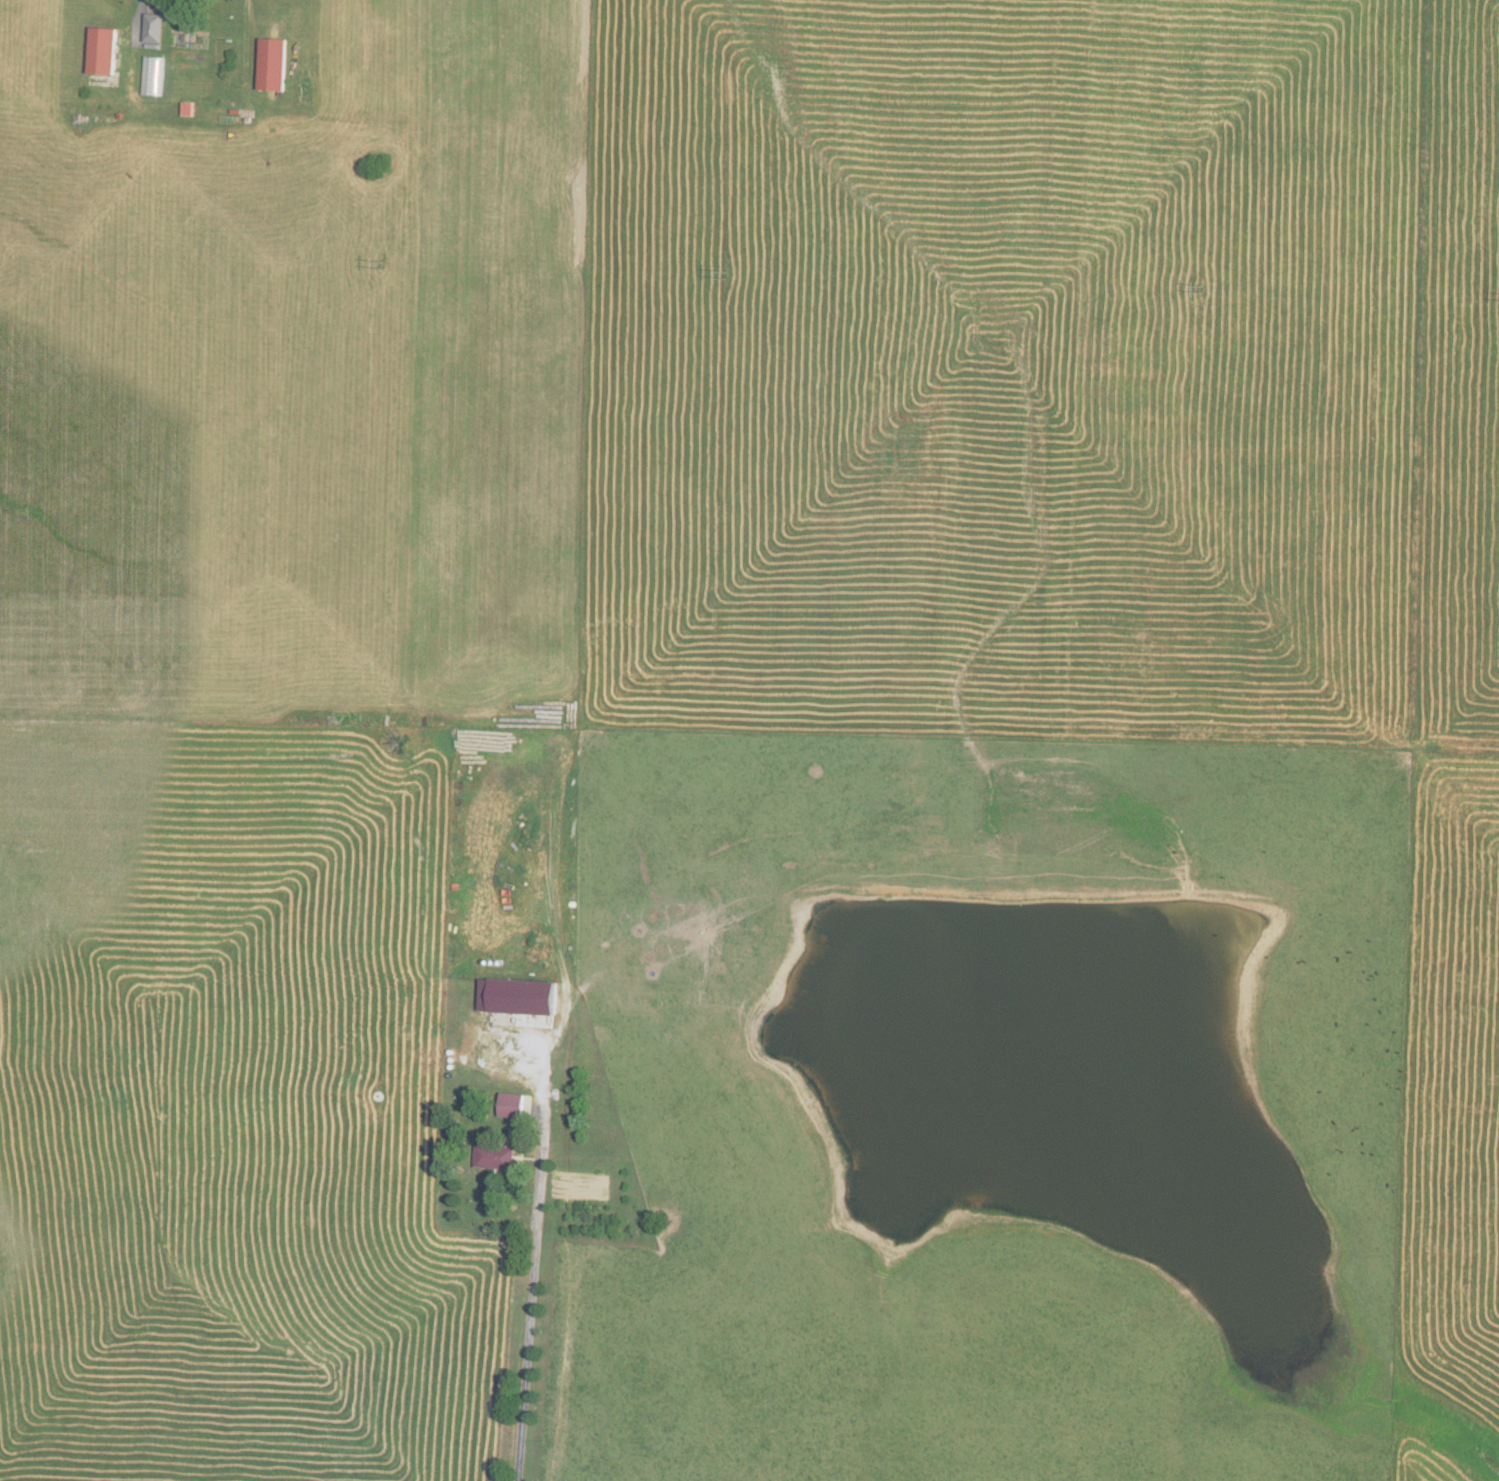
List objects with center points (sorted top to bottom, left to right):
road: (136, 20)
road: (251, 20)
building: (153, 27)
building: (102, 50)
building: (272, 63)
building: (151, 75)
building: (187, 108)
power tower: (381, 265)
power tower: (720, 273)
power tower: (1202, 289)
building: (518, 996)
building: (512, 1105)
building: (496, 1157)
road: (531, 1291)

